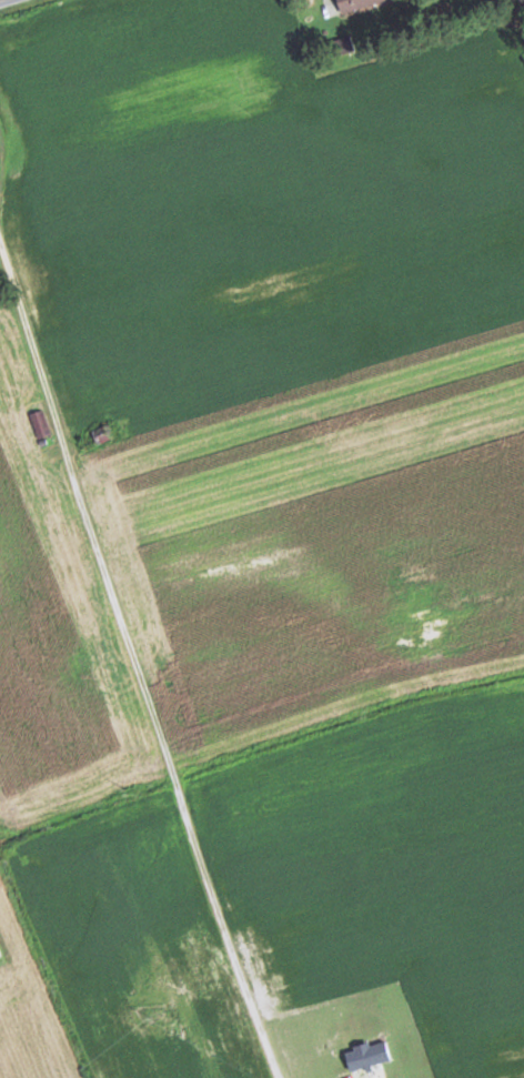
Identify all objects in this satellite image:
building: (359, 3)
building: (40, 423)

